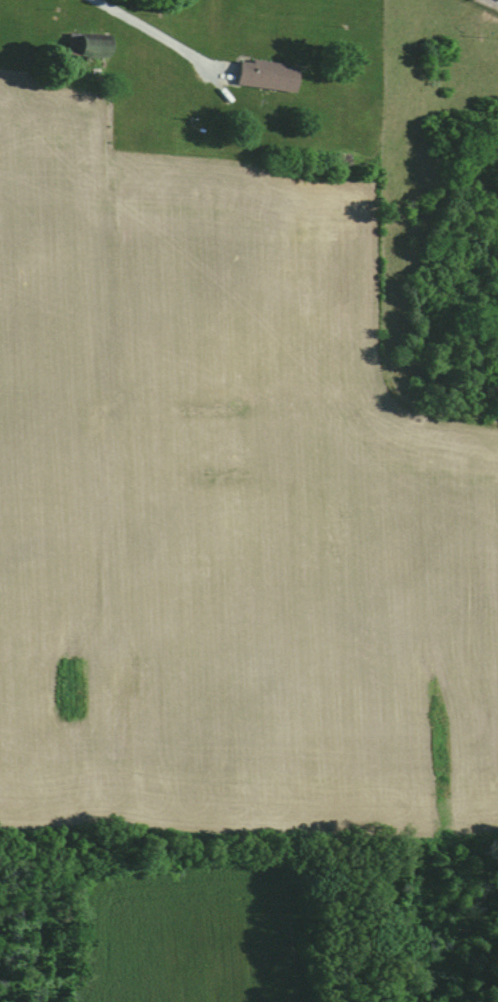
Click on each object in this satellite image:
road: (497, 0)
road: (143, 34)
building: (269, 75)

